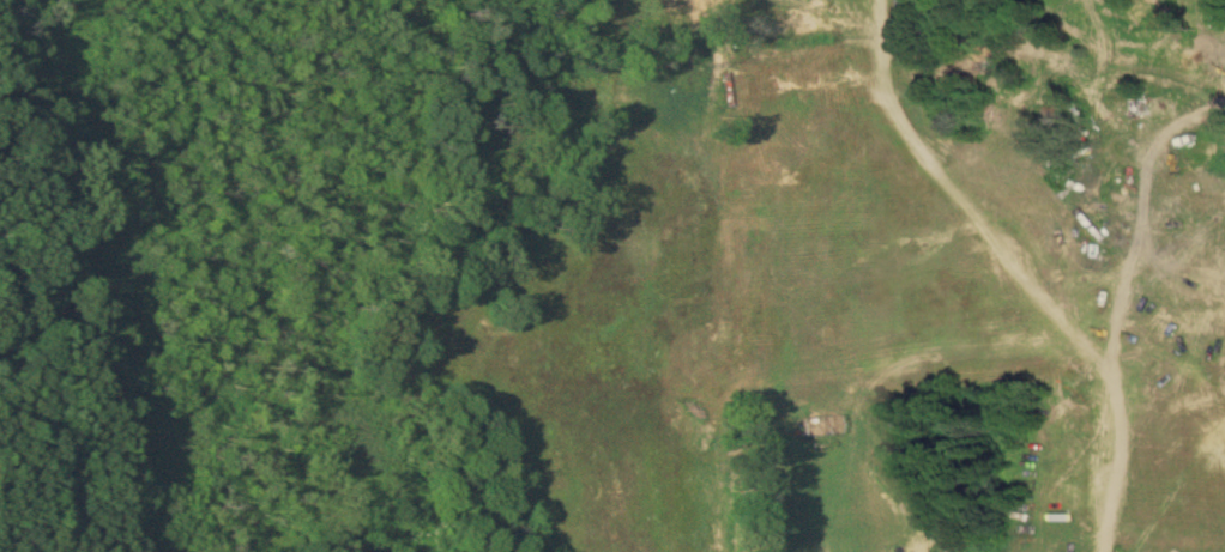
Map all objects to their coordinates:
building: (1097, 216)

